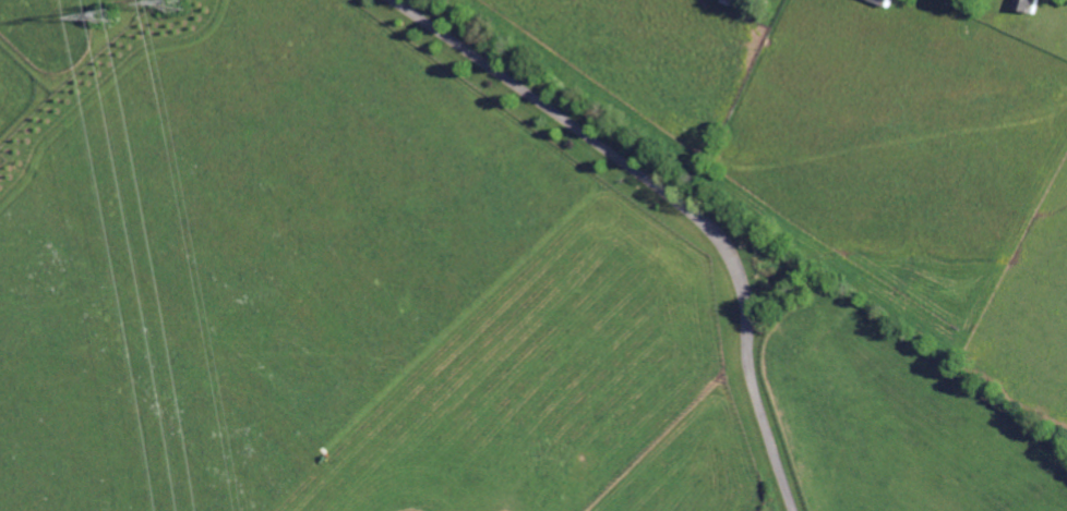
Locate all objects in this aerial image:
power tower: (182, 1)
power tower: (112, 34)
road: (674, 198)

